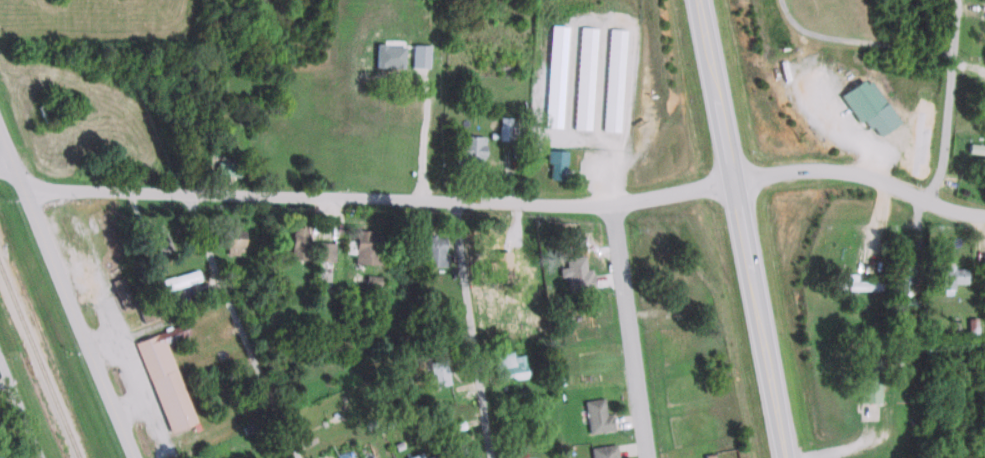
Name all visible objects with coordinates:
road: (796, 20)
road: (963, 27)
road: (887, 44)
building: (585, 85)
building: (865, 106)
road: (830, 116)
building: (984, 117)
road: (951, 130)
building: (974, 148)
building: (466, 149)
road: (5, 163)
building: (554, 163)
building: (224, 168)
road: (508, 201)
road: (743, 228)
building: (157, 236)
building: (232, 240)
building: (296, 242)
building: (362, 247)
building: (428, 250)
building: (320, 251)
road: (622, 269)
building: (901, 271)
building: (573, 272)
building: (949, 276)
building: (177, 279)
building: (851, 283)
building: (117, 288)
road: (66, 297)
building: (143, 310)
road: (240, 326)
road: (474, 329)
railway: (38, 364)
building: (506, 366)
building: (434, 372)
building: (164, 377)
building: (865, 379)
road: (22, 404)
building: (593, 416)
building: (455, 447)
building: (598, 451)
building: (412, 455)

